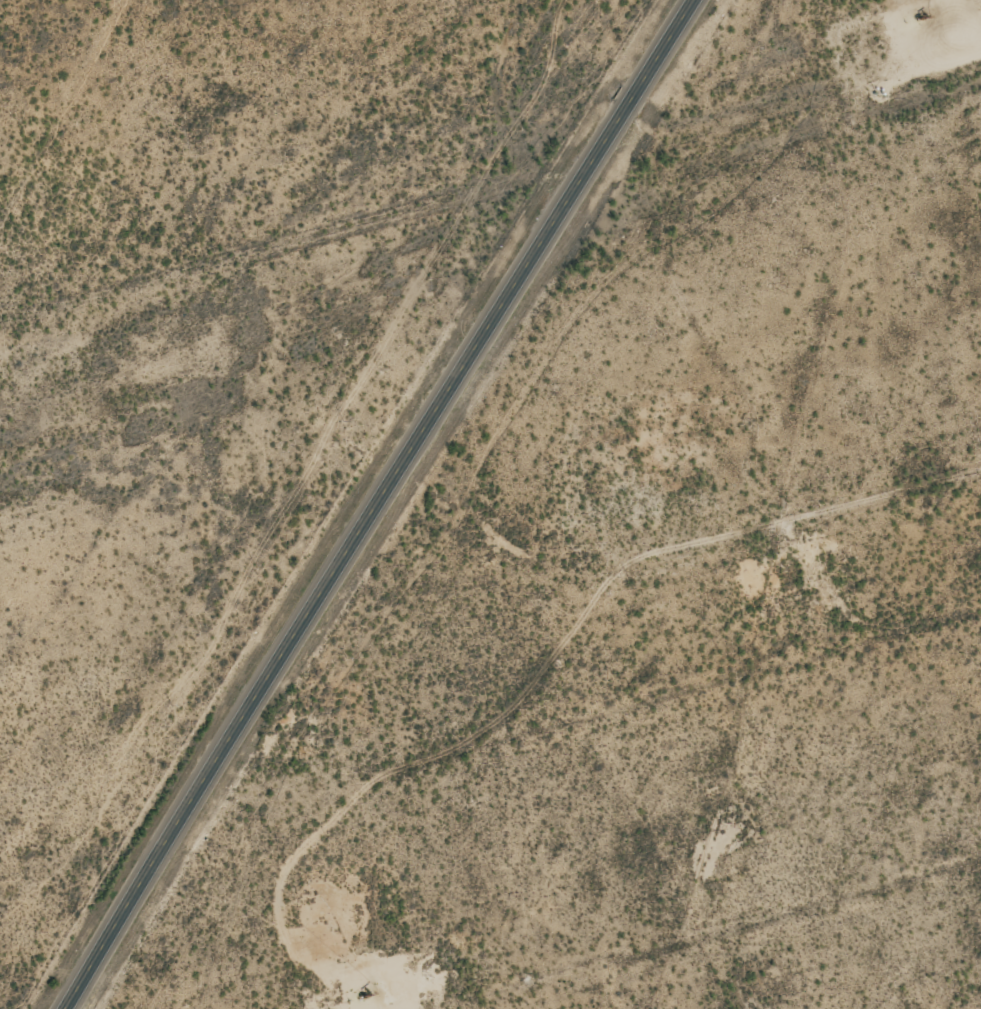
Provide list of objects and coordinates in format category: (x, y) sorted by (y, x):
road: (490, 195)
road: (380, 503)

